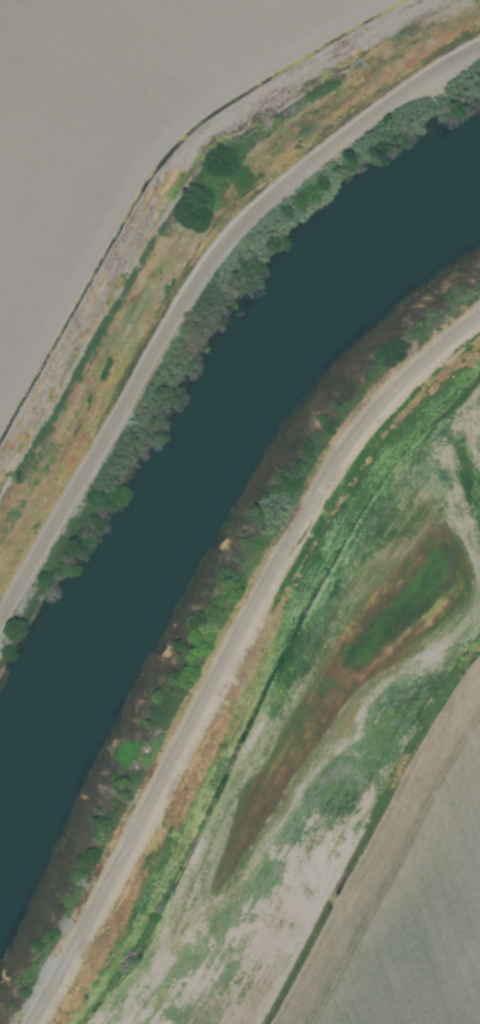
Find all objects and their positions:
crop: (152, 189)
road: (191, 291)
crop: (320, 755)

